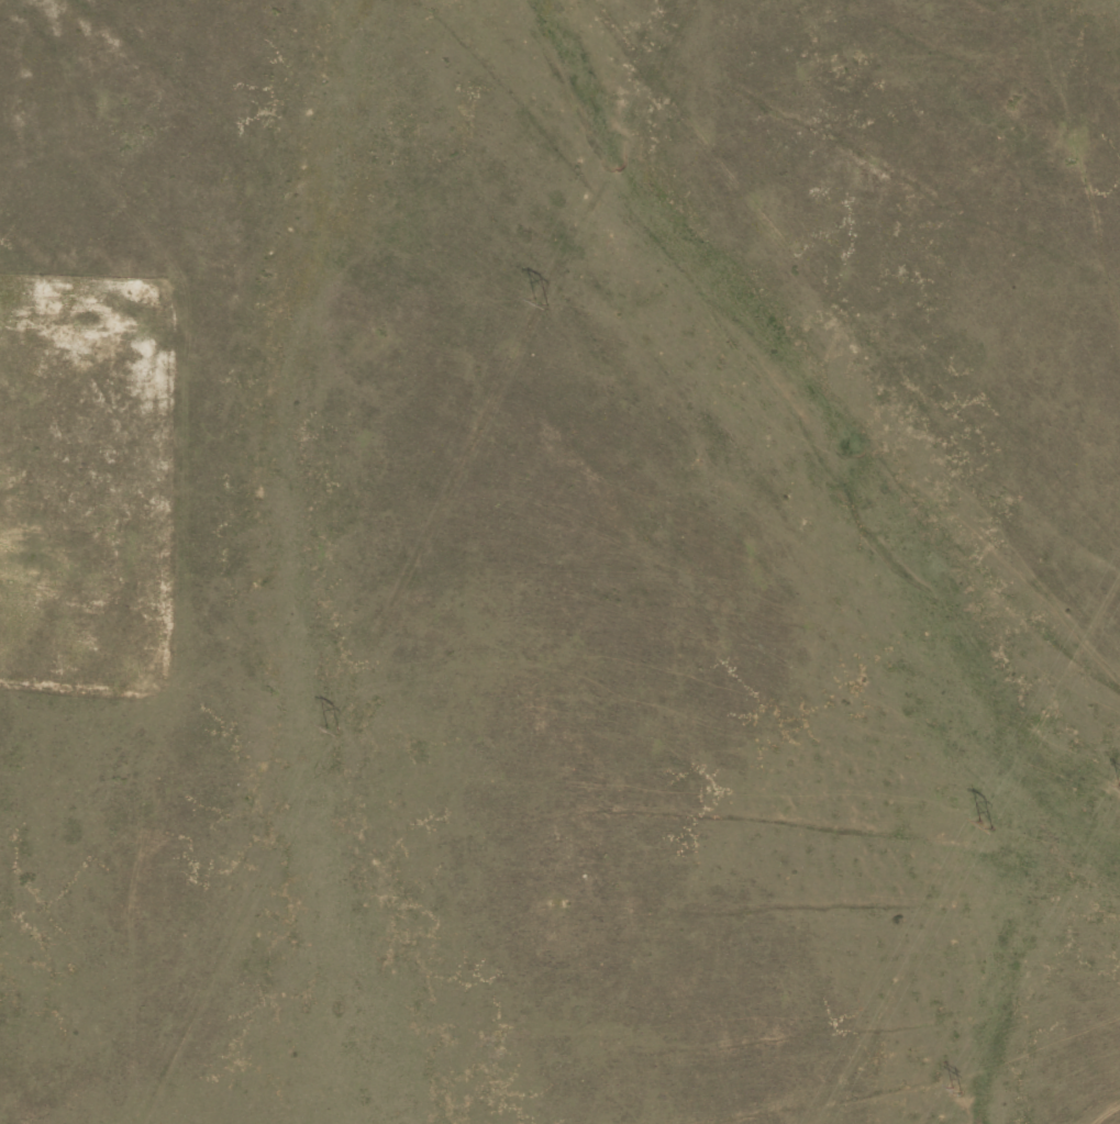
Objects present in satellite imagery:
road: (842, 261)
power tower: (544, 303)
power tower: (332, 726)
power tower: (987, 825)
power tower: (960, 1094)

